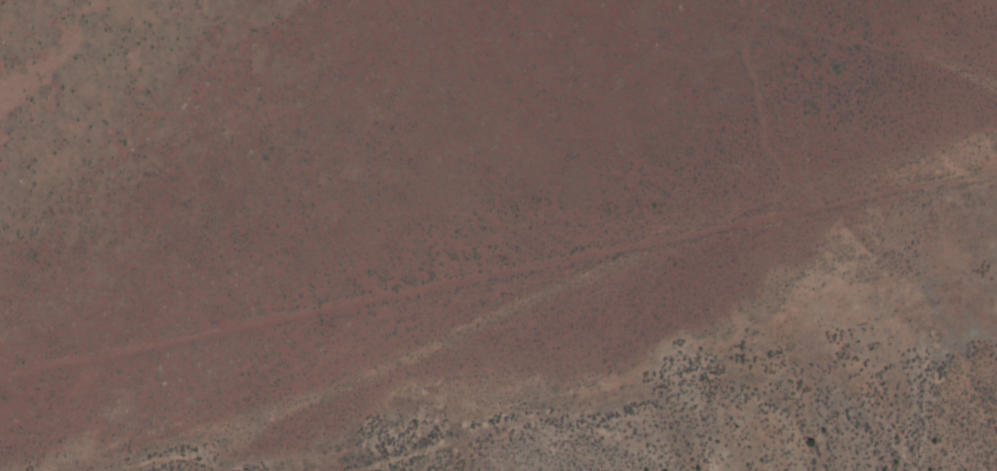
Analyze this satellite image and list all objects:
road: (498, 308)

